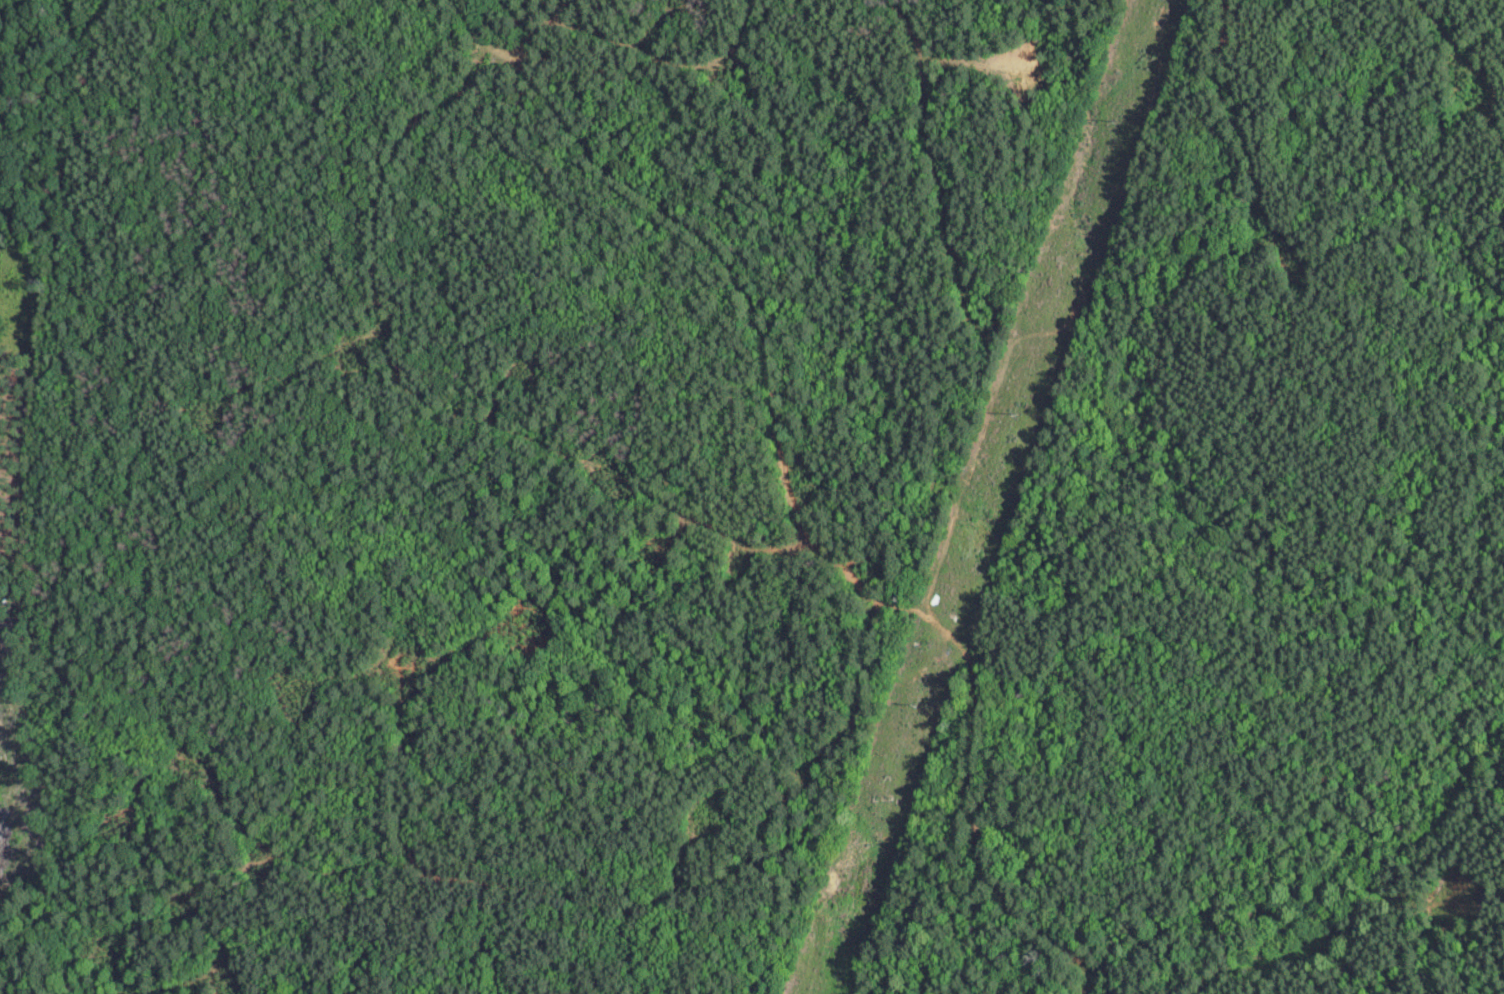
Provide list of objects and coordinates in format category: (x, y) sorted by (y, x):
power tower: (1120, 120)
power tower: (1019, 412)
power tower: (917, 703)

